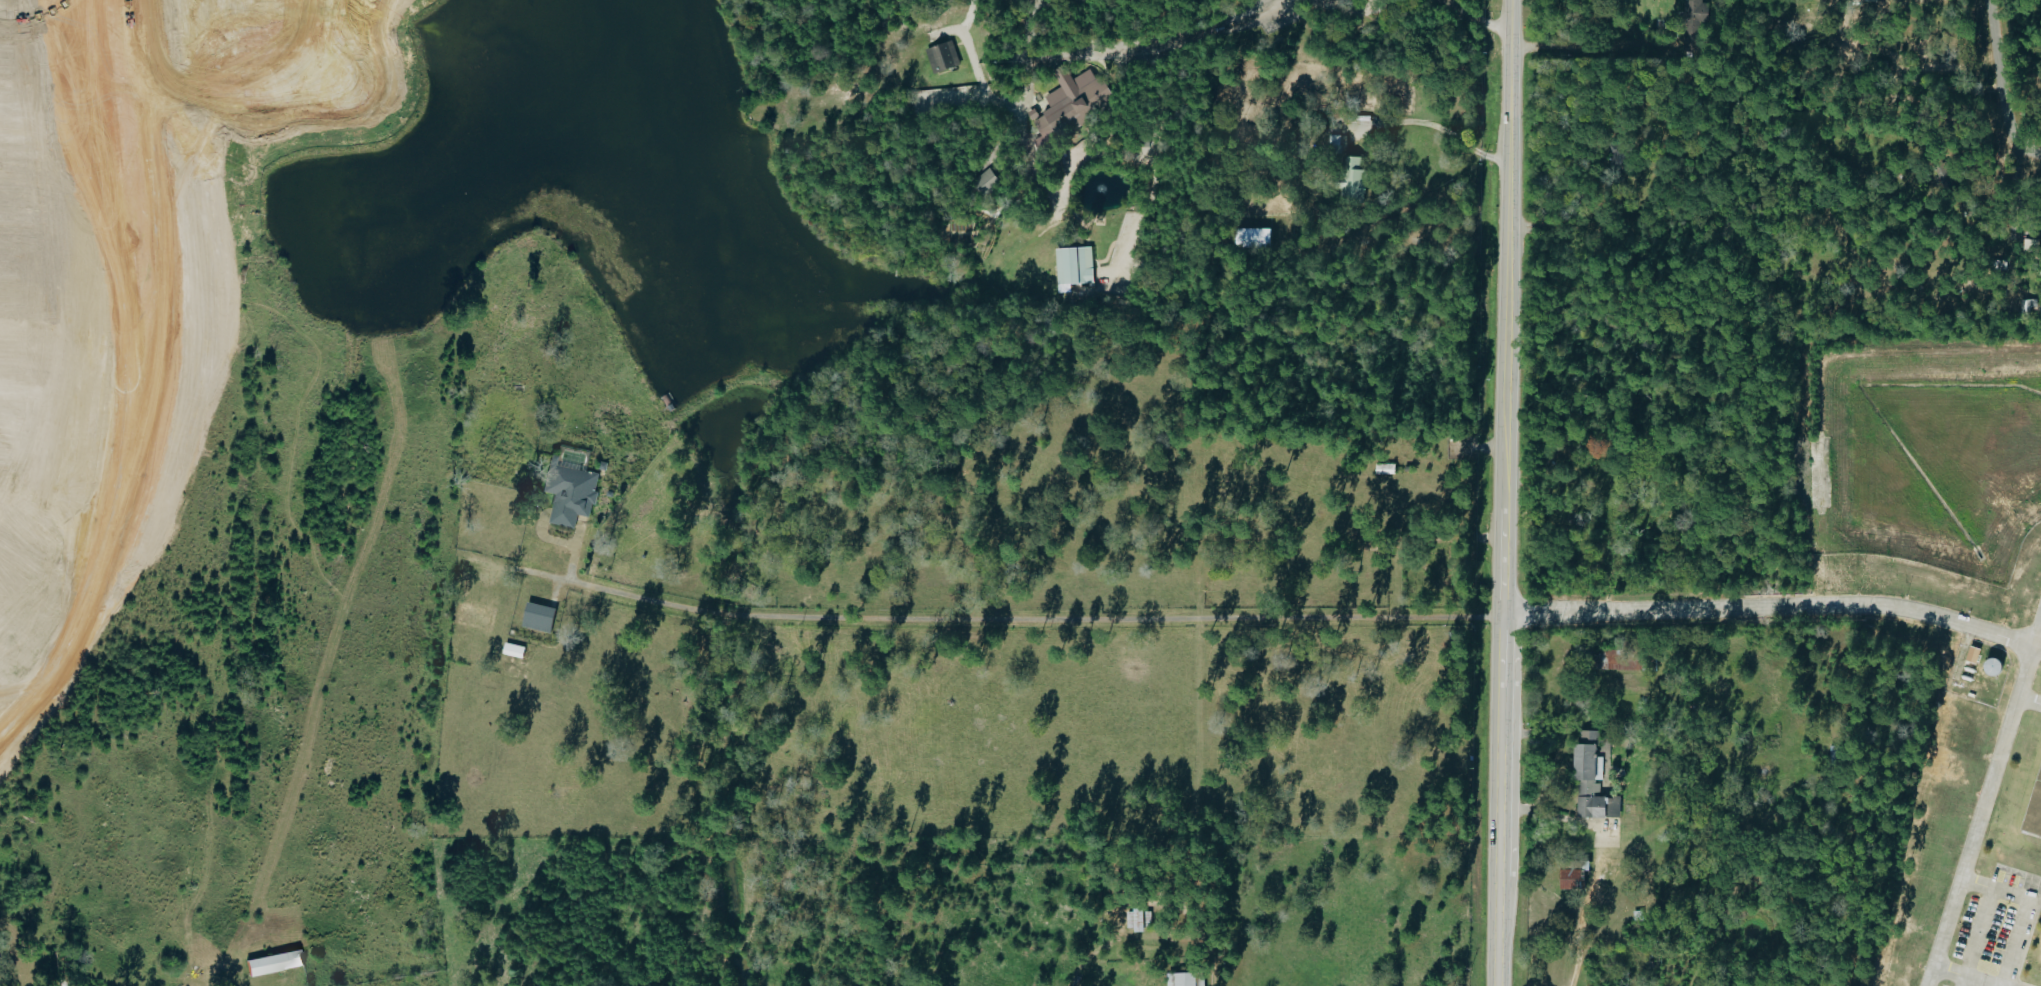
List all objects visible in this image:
building: (1691, 9)
road: (1473, 19)
road: (1576, 48)
road: (1163, 49)
building: (945, 57)
road: (1509, 80)
road: (2000, 83)
road: (1950, 92)
road: (1020, 104)
building: (1073, 105)
road: (1448, 138)
road: (1085, 153)
road: (2038, 153)
road: (991, 161)
road: (1151, 162)
building: (1353, 179)
building: (990, 180)
building: (1255, 237)
road: (2017, 243)
building: (1077, 265)
building: (1387, 469)
building: (572, 492)
road: (1503, 573)
road: (996, 616)
building: (541, 617)
road: (1945, 620)
road: (2035, 640)
building: (516, 650)
building: (1976, 654)
building: (1594, 781)
building: (2033, 806)
building: (1575, 878)
road: (1584, 911)
road: (1980, 918)
building: (1140, 920)
road: (2021, 924)
parking lot: (1999, 931)
building: (279, 963)
road: (1960, 976)
building: (1186, 979)
road: (1960, 981)

